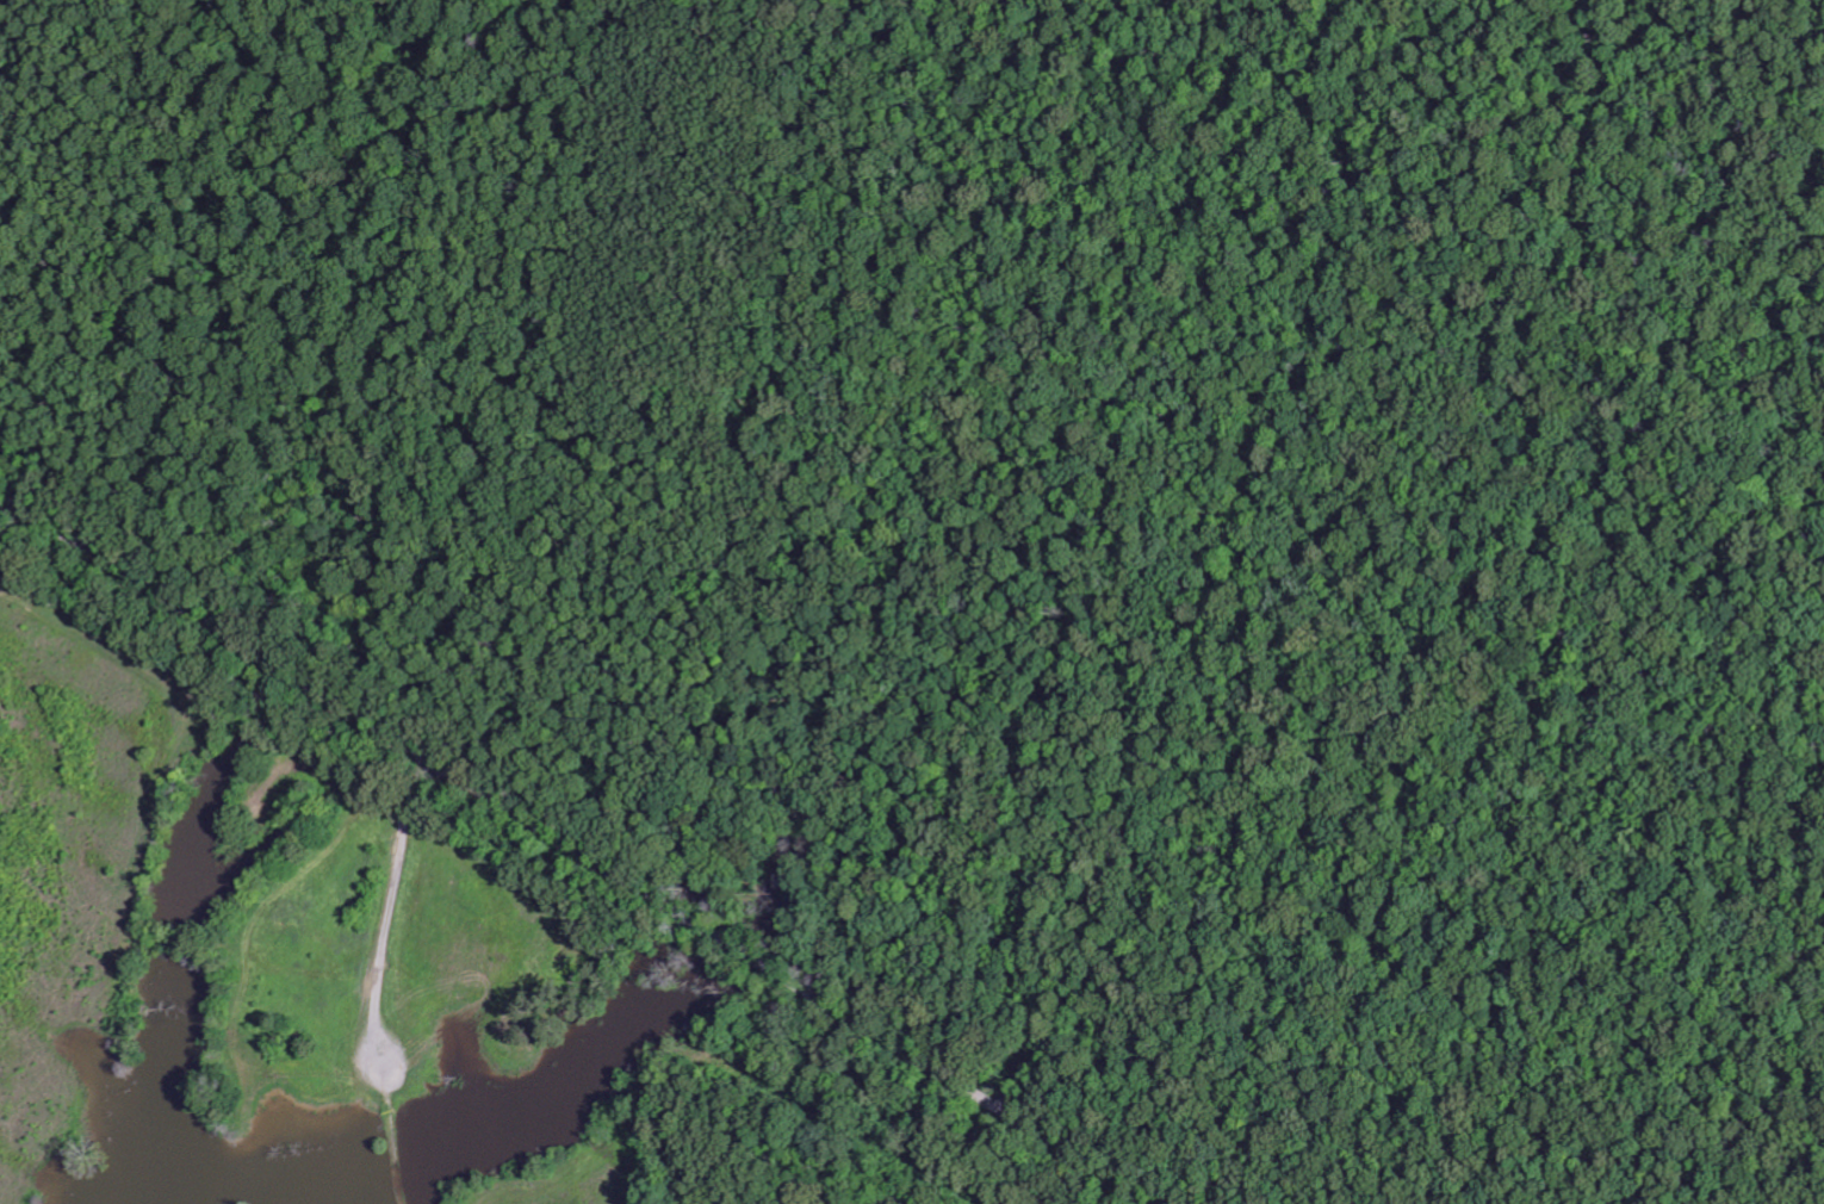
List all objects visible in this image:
road: (535, 877)

